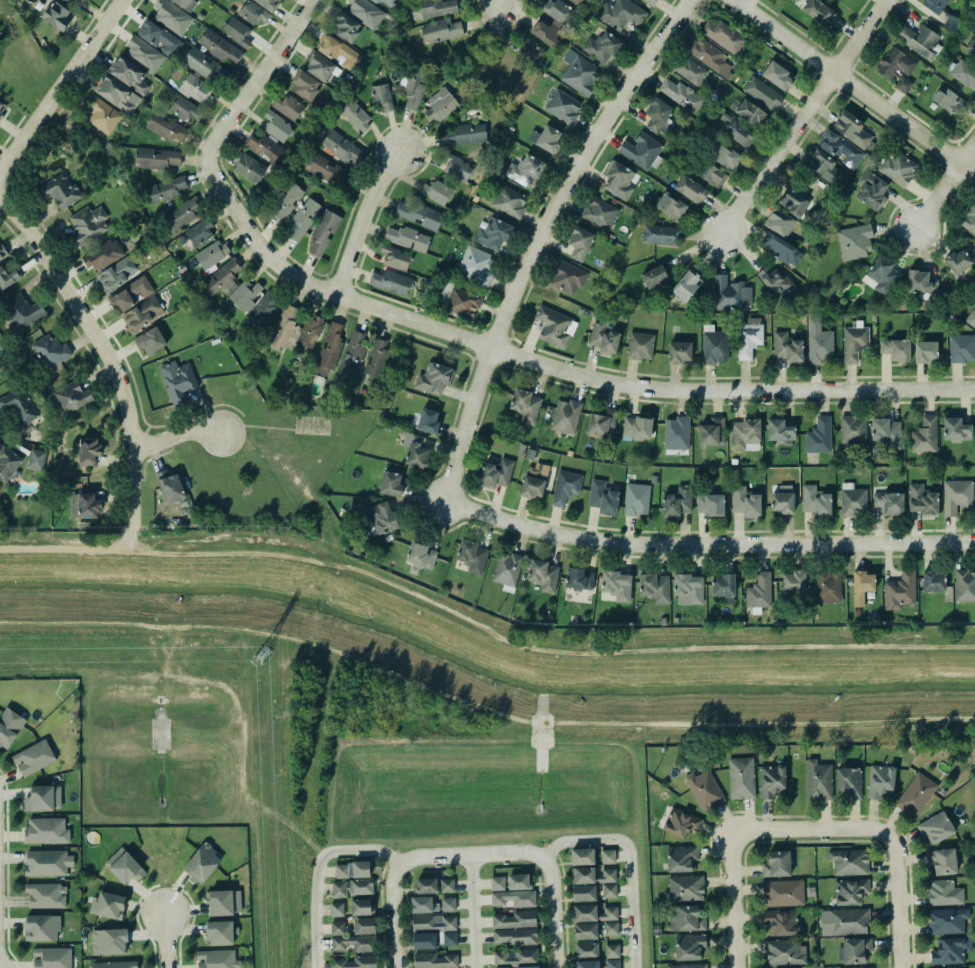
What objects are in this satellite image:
building: (67, 1)
road: (499, 1)
building: (573, 1)
building: (651, 1)
building: (388, 2)
building: (185, 4)
building: (268, 4)
building: (935, 5)
building: (436, 8)
building: (556, 11)
building: (819, 12)
building: (254, 13)
building: (366, 13)
building: (620, 14)
building: (56, 16)
building: (172, 17)
building: (953, 23)
building: (346, 27)
building: (440, 30)
building: (237, 31)
building: (723, 35)
building: (161, 38)
building: (920, 40)
building: (220, 47)
building: (602, 47)
building: (970, 47)
building: (338, 52)
building: (530, 52)
building: (144, 55)
building: (710, 57)
building: (206, 66)
building: (321, 66)
building: (886, 69)
building: (690, 70)
building: (964, 73)
building: (130, 74)
building: (578, 76)
building: (778, 76)
road: (264, 77)
road: (58, 85)
building: (306, 86)
building: (415, 86)
road: (851, 87)
building: (194, 89)
building: (681, 94)
building: (762, 94)
building: (118, 95)
building: (382, 96)
building: (950, 100)
building: (441, 105)
building: (2, 106)
building: (288, 107)
building: (563, 107)
building: (184, 109)
building: (751, 113)
building: (658, 114)
building: (1, 116)
building: (353, 116)
road: (803, 116)
building: (104, 117)
building: (278, 126)
building: (851, 128)
building: (167, 129)
building: (737, 131)
building: (465, 135)
building: (549, 139)
building: (341, 147)
building: (841, 148)
building: (266, 149)
building: (641, 150)
building: (725, 156)
building: (156, 158)
building: (248, 166)
building: (824, 167)
building: (457, 168)
building: (898, 168)
building: (325, 169)
building: (526, 170)
building: (712, 175)
building: (619, 180)
road: (944, 186)
building: (163, 190)
building: (690, 190)
building: (872, 190)
building: (57, 191)
building: (438, 192)
building: (283, 201)
building: (509, 201)
building: (794, 202)
building: (670, 206)
building: (182, 213)
building: (601, 213)
building: (421, 215)
road: (360, 219)
building: (969, 219)
building: (303, 220)
building: (780, 222)
building: (86, 225)
building: (323, 233)
building: (198, 234)
building: (493, 234)
building: (661, 235)
building: (406, 238)
road: (544, 239)
building: (855, 241)
building: (581, 243)
building: (781, 249)
building: (2, 252)
building: (102, 253)
building: (212, 253)
building: (395, 258)
building: (958, 262)
building: (476, 265)
building: (113, 274)
building: (656, 276)
building: (881, 276)
building: (221, 277)
building: (568, 277)
building: (7, 278)
building: (391, 282)
building: (776, 282)
building: (921, 284)
building: (687, 285)
building: (729, 292)
building: (242, 293)
building: (132, 294)
building: (463, 302)
building: (21, 312)
building: (141, 314)
building: (971, 318)
building: (555, 327)
building: (285, 330)
building: (310, 331)
building: (749, 337)
building: (604, 338)
building: (151, 341)
building: (854, 341)
building: (819, 343)
building: (640, 346)
building: (714, 346)
building: (788, 348)
building: (962, 348)
building: (329, 349)
building: (51, 350)
building: (896, 350)
road: (104, 351)
building: (354, 352)
building: (679, 352)
building: (925, 352)
building: (377, 358)
road: (551, 366)
building: (434, 379)
building: (177, 381)
building: (72, 396)
building: (525, 406)
building: (18, 407)
building: (566, 416)
building: (428, 421)
building: (603, 424)
building: (637, 427)
building: (852, 430)
building: (956, 430)
building: (713, 432)
building: (780, 432)
building: (887, 432)
building: (677, 433)
building: (745, 435)
building: (925, 435)
building: (819, 436)
road: (175, 437)
building: (417, 450)
building: (87, 451)
building: (37, 459)
building: (8, 463)
building: (496, 473)
building: (532, 483)
building: (391, 484)
building: (170, 487)
building: (565, 487)
building: (957, 496)
building: (602, 497)
building: (637, 500)
building: (783, 500)
building: (678, 501)
building: (815, 501)
building: (852, 501)
building: (922, 501)
building: (746, 502)
building: (890, 503)
building: (86, 504)
building: (710, 504)
building: (380, 519)
road: (706, 541)
road: (137, 551)
building: (421, 556)
building: (473, 557)
building: (507, 570)
building: (543, 575)
building: (579, 579)
building: (794, 582)
building: (934, 582)
building: (964, 585)
building: (616, 586)
building: (827, 586)
building: (862, 586)
building: (655, 588)
building: (724, 588)
building: (688, 589)
building: (759, 591)
building: (900, 591)
road: (241, 618)
power tower: (266, 657)
building: (9, 727)
building: (33, 758)
building: (741, 778)
building: (770, 779)
building: (819, 780)
building: (848, 780)
building: (880, 781)
building: (706, 793)
building: (916, 795)
building: (44, 798)
building: (681, 823)
building: (934, 826)
building: (45, 829)
road: (811, 831)
building: (582, 857)
building: (608, 857)
building: (680, 857)
building: (941, 859)
road: (629, 860)
building: (47, 861)
building: (849, 862)
building: (202, 863)
building: (777, 864)
building: (126, 869)
building: (352, 870)
road: (314, 871)
building: (609, 875)
road: (547, 876)
building: (584, 876)
road: (393, 880)
building: (518, 882)
building: (497, 883)
building: (424, 884)
building: (351, 887)
building: (685, 889)
building: (609, 891)
building: (850, 891)
building: (782, 892)
building: (943, 892)
building: (584, 893)
building: (46, 895)
building: (514, 898)
road: (731, 901)
building: (237, 902)
building: (221, 903)
building: (448, 904)
road: (897, 904)
building: (110, 905)
building: (423, 905)
building: (360, 907)
building: (337, 909)
road: (471, 911)
building: (592, 911)
building: (684, 917)
building: (513, 919)
building: (847, 920)
building: (946, 920)
building: (434, 922)
building: (782, 922)
building: (41, 926)
building: (364, 926)
building: (611, 928)
building: (585, 931)
building: (221, 933)
building: (514, 936)
building: (450, 939)
road: (164, 940)
building: (350, 940)
building: (424, 941)
building: (109, 942)
building: (688, 946)
building: (586, 950)
building: (854, 950)
building: (612, 951)
building: (951, 951)
building: (783, 952)
building: (51, 957)
building: (517, 957)
building: (217, 958)
building: (435, 961)
building: (357, 962)
building: (613, 963)
building: (113, 964)
building: (587, 964)
building: (687, 965)
building: (505, 967)
building: (527, 967)
building: (871, 967)

